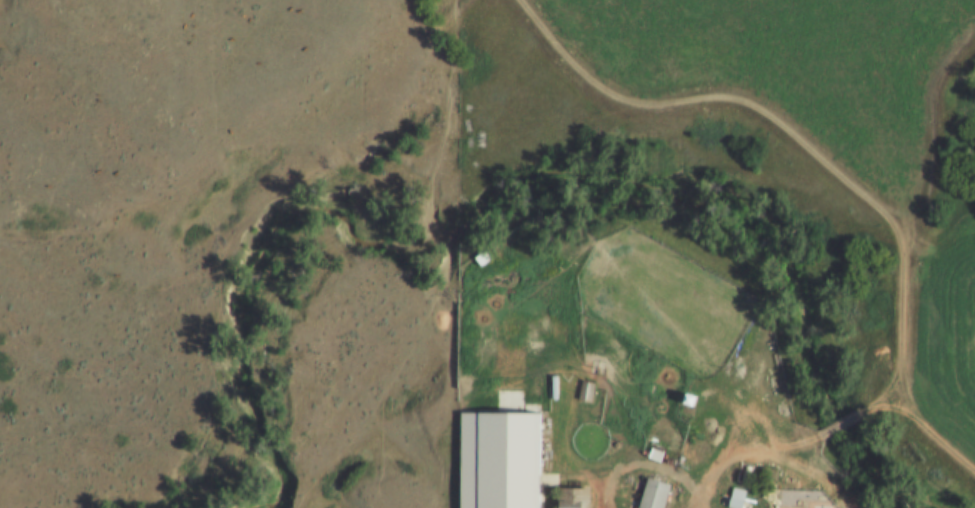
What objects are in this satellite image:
road: (829, 160)
road: (770, 450)
building: (500, 460)
building: (651, 495)
building: (735, 499)

